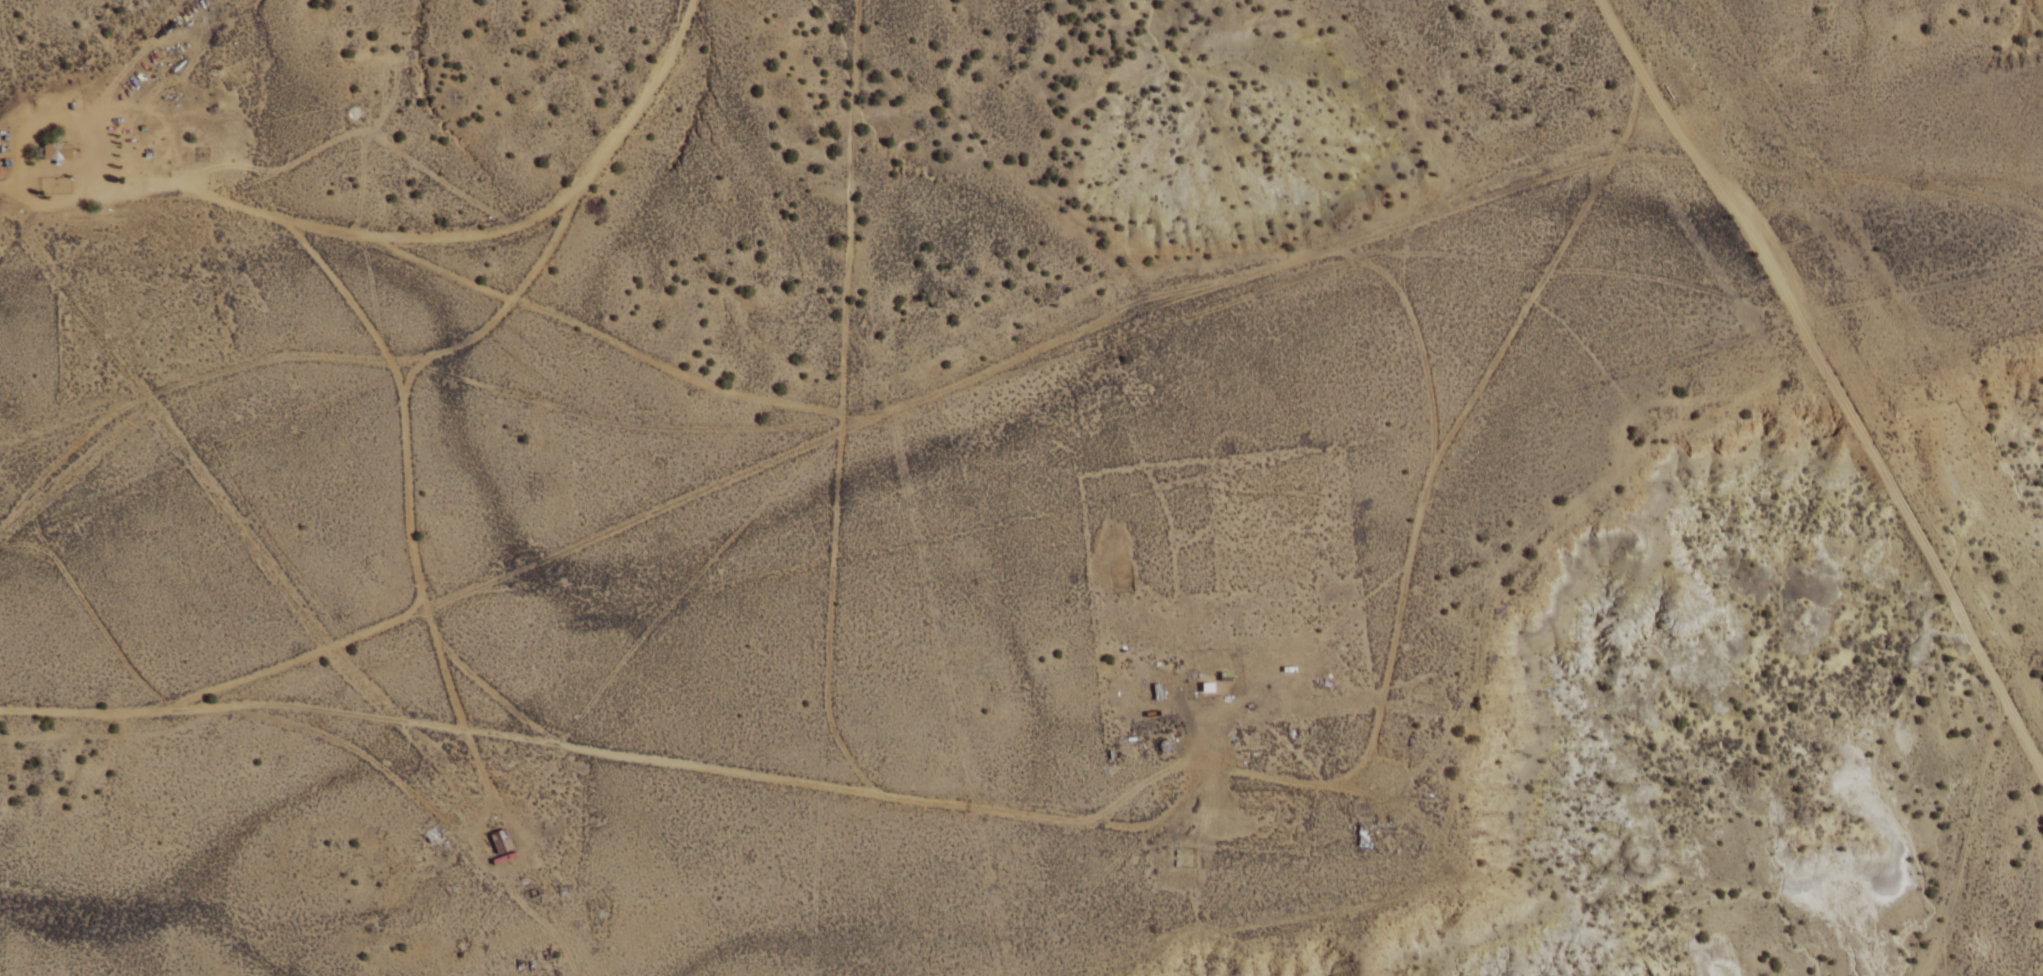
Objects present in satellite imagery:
building: (58, 153)
road: (12, 226)
road: (507, 305)
road: (1009, 366)
road: (1830, 381)
building: (1158, 693)
building: (501, 844)

